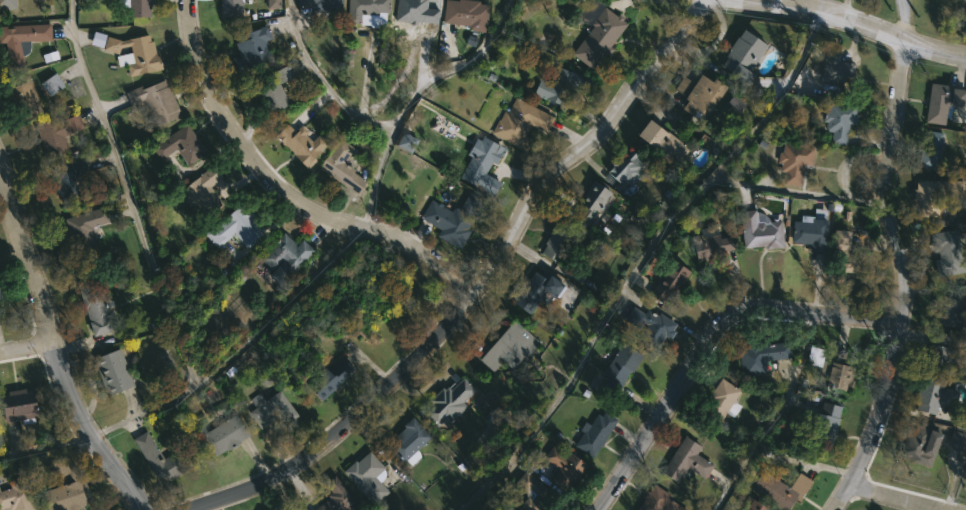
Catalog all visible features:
building: (6, 4)
building: (273, 4)
building: (319, 5)
building: (134, 7)
building: (227, 9)
road: (844, 10)
building: (364, 12)
building: (463, 14)
road: (904, 21)
road: (860, 27)
building: (594, 31)
building: (21, 38)
building: (470, 41)
building: (251, 46)
building: (132, 54)
building: (739, 58)
building: (835, 65)
road: (455, 68)
building: (52, 84)
building: (560, 86)
building: (272, 90)
building: (696, 96)
building: (21, 99)
building: (152, 102)
building: (736, 103)
building: (941, 103)
building: (838, 122)
building: (517, 123)
building: (53, 134)
building: (654, 140)
building: (406, 142)
building: (298, 145)
building: (178, 146)
building: (930, 149)
building: (791, 163)
building: (480, 165)
building: (339, 167)
building: (624, 169)
building: (64, 181)
building: (200, 189)
road: (284, 191)
building: (935, 192)
road: (367, 200)
building: (590, 201)
building: (452, 219)
building: (231, 227)
building: (80, 229)
building: (808, 230)
building: (757, 231)
building: (556, 242)
building: (708, 245)
road: (149, 253)
building: (946, 253)
building: (284, 256)
building: (844, 256)
road: (640, 262)
building: (665, 282)
road: (907, 283)
building: (534, 292)
road: (474, 295)
building: (0, 298)
building: (95, 308)
building: (0, 312)
building: (945, 314)
building: (650, 326)
road: (712, 342)
road: (26, 348)
building: (504, 349)
road: (56, 352)
building: (939, 353)
building: (757, 357)
building: (619, 364)
building: (829, 368)
building: (111, 372)
building: (327, 379)
building: (932, 397)
building: (717, 401)
building: (449, 402)
building: (17, 406)
building: (270, 410)
road: (770, 417)
building: (820, 426)
building: (592, 433)
building: (220, 437)
building: (956, 440)
building: (405, 441)
road: (46, 444)
building: (920, 445)
building: (160, 459)
building: (683, 461)
building: (562, 467)
road: (953, 473)
building: (365, 476)
building: (64, 487)
building: (780, 490)
building: (529, 491)
building: (15, 497)
building: (334, 497)
building: (655, 500)
road: (889, 500)
building: (752, 506)

